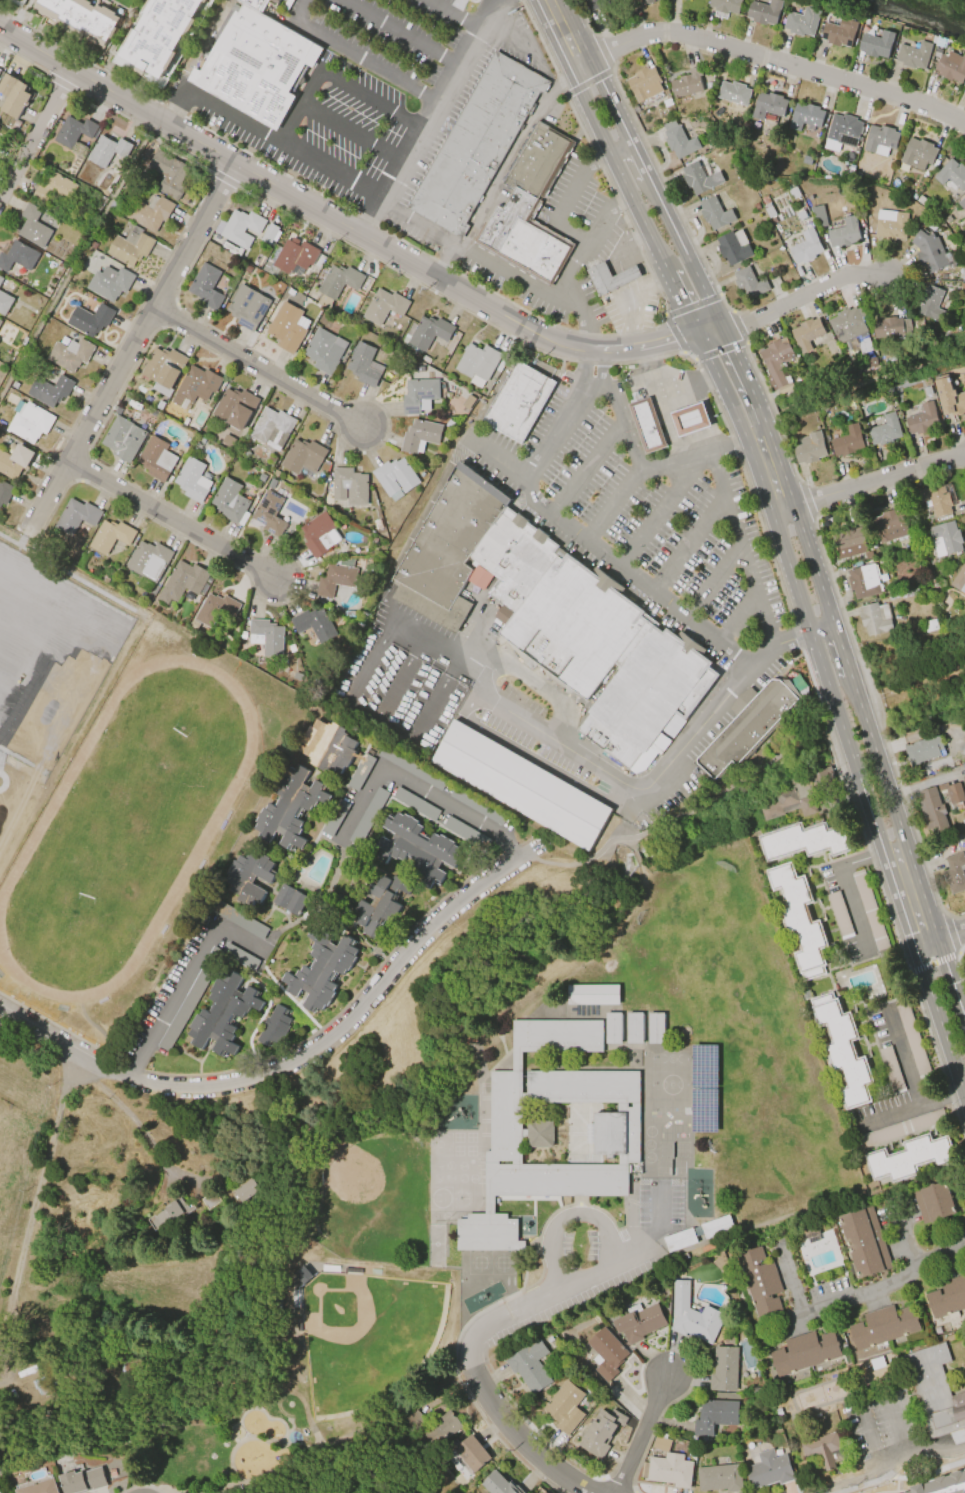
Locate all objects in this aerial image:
building: (13, 0)
building: (686, 0)
building: (20, 1)
building: (649, 2)
building: (595, 3)
building: (729, 6)
road: (301, 12)
building: (768, 13)
road: (453, 16)
building: (81, 21)
building: (806, 23)
road: (397, 34)
building: (844, 34)
building: (162, 37)
road: (519, 42)
building: (880, 45)
building: (917, 56)
road: (768, 60)
road: (366, 64)
building: (258, 66)
building: (953, 67)
building: (1, 73)
building: (645, 84)
building: (690, 85)
building: (735, 93)
building: (15, 97)
road: (369, 102)
building: (667, 103)
building: (773, 107)
road: (172, 109)
road: (297, 110)
road: (431, 115)
building: (809, 117)
building: (0, 127)
building: (846, 131)
building: (77, 132)
road: (36, 134)
road: (351, 134)
building: (881, 140)
building: (681, 142)
building: (477, 144)
building: (108, 151)
road: (510, 155)
building: (921, 155)
building: (809, 160)
building: (862, 164)
building: (853, 171)
building: (953, 174)
building: (173, 175)
building: (698, 178)
building: (58, 190)
building: (796, 192)
road: (567, 195)
road: (370, 200)
building: (922, 200)
building: (963, 203)
building: (770, 207)
building: (528, 208)
building: (715, 214)
building: (152, 215)
building: (821, 216)
building: (889, 225)
building: (36, 228)
building: (245, 228)
road: (350, 230)
road: (571, 234)
building: (847, 234)
building: (272, 236)
road: (625, 246)
building: (734, 247)
building: (808, 248)
building: (133, 249)
building: (930, 252)
building: (19, 256)
road: (585, 256)
building: (297, 258)
road: (444, 258)
building: (236, 264)
building: (610, 280)
road: (624, 280)
building: (2, 282)
building: (750, 283)
building: (113, 284)
building: (340, 285)
building: (210, 288)
road: (800, 296)
building: (932, 304)
building: (6, 305)
building: (387, 308)
building: (250, 309)
road: (582, 316)
road: (632, 317)
building: (93, 320)
building: (852, 323)
building: (1, 324)
building: (891, 327)
building: (291, 330)
traffic signals: (724, 332)
building: (810, 332)
building: (432, 334)
traffic signals: (702, 336)
road: (133, 347)
building: (326, 353)
building: (73, 357)
building: (777, 362)
building: (480, 365)
building: (366, 366)
road: (262, 367)
building: (167, 372)
road: (671, 381)
building: (199, 387)
building: (54, 390)
building: (930, 392)
building: (422, 398)
building: (951, 400)
building: (471, 404)
building: (523, 405)
building: (238, 410)
road: (614, 411)
road: (566, 418)
building: (690, 419)
building: (28, 420)
building: (925, 420)
road: (666, 421)
building: (648, 426)
building: (275, 431)
building: (888, 432)
building: (423, 439)
building: (126, 440)
building: (230, 443)
building: (849, 443)
building: (201, 446)
building: (812, 450)
road: (691, 455)
building: (306, 460)
building: (160, 461)
building: (16, 463)
road: (586, 470)
building: (264, 479)
building: (398, 481)
road: (868, 482)
building: (196, 483)
building: (274, 485)
building: (352, 489)
building: (254, 493)
building: (6, 495)
building: (943, 499)
road: (792, 502)
building: (233, 504)
road: (612, 505)
road: (658, 509)
building: (271, 516)
building: (79, 519)
road: (174, 523)
building: (893, 526)
building: (380, 527)
road: (416, 527)
road: (779, 533)
building: (946, 537)
building: (114, 538)
building: (322, 538)
building: (852, 543)
road: (688, 544)
road: (741, 548)
road: (604, 555)
building: (151, 562)
building: (960, 578)
building: (338, 581)
road: (713, 582)
building: (185, 583)
building: (866, 583)
building: (217, 612)
building: (353, 616)
building: (560, 619)
road: (738, 620)
building: (878, 620)
building: (931, 624)
road: (477, 625)
building: (197, 627)
building: (316, 627)
road: (809, 634)
building: (245, 637)
park: (52, 638)
building: (269, 639)
road: (438, 649)
building: (294, 650)
road: (371, 660)
road: (484, 676)
road: (397, 678)
road: (544, 689)
road: (434, 701)
road: (710, 714)
building: (261, 715)
building: (750, 729)
road: (537, 730)
building: (329, 749)
building: (924, 750)
building: (361, 772)
building: (964, 777)
park: (111, 778)
road: (621, 782)
building: (520, 785)
road: (425, 791)
building: (802, 795)
building: (415, 804)
building: (941, 807)
building: (292, 811)
building: (370, 813)
building: (335, 818)
park: (128, 819)
track: (38, 825)
building: (806, 845)
building: (420, 852)
road: (597, 855)
building: (956, 875)
building: (249, 879)
road: (845, 886)
building: (290, 899)
building: (381, 910)
building: (870, 910)
building: (839, 915)
building: (241, 920)
building: (801, 923)
road: (280, 933)
road: (940, 937)
building: (242, 958)
building: (320, 974)
building: (592, 993)
building: (221, 1019)
building: (613, 1027)
building: (634, 1027)
building: (655, 1027)
road: (158, 1028)
building: (274, 1028)
building: (913, 1040)
building: (844, 1049)
road: (904, 1055)
road: (294, 1057)
building: (891, 1069)
building: (704, 1087)
road: (938, 1101)
road: (127, 1114)
road: (884, 1119)
building: (602, 1132)
building: (890, 1132)
building: (910, 1158)
park: (357, 1175)
road: (38, 1186)
building: (246, 1190)
building: (211, 1200)
building: (933, 1202)
building: (171, 1213)
road: (656, 1218)
building: (717, 1227)
road: (606, 1229)
building: (680, 1240)
building: (864, 1241)
parking lot: (590, 1258)
building: (760, 1282)
road: (867, 1297)
building: (947, 1298)
building: (693, 1316)
building: (639, 1322)
building: (884, 1326)
park: (324, 1332)
park: (366, 1336)
road: (470, 1343)
building: (606, 1353)
building: (804, 1353)
building: (530, 1367)
building: (724, 1369)
building: (935, 1391)
road: (869, 1399)
building: (565, 1408)
building: (714, 1416)
building: (411, 1420)
building: (441, 1428)
road: (896, 1428)
building: (601, 1431)
road: (639, 1437)
building: (660, 1441)
road: (875, 1448)
building: (821, 1449)
building: (471, 1453)
road: (915, 1459)
road: (957, 1460)
building: (668, 1470)
building: (769, 1470)
building: (719, 1478)
building: (82, 1480)
road: (938, 1483)
building: (498, 1484)
building: (38, 1487)

